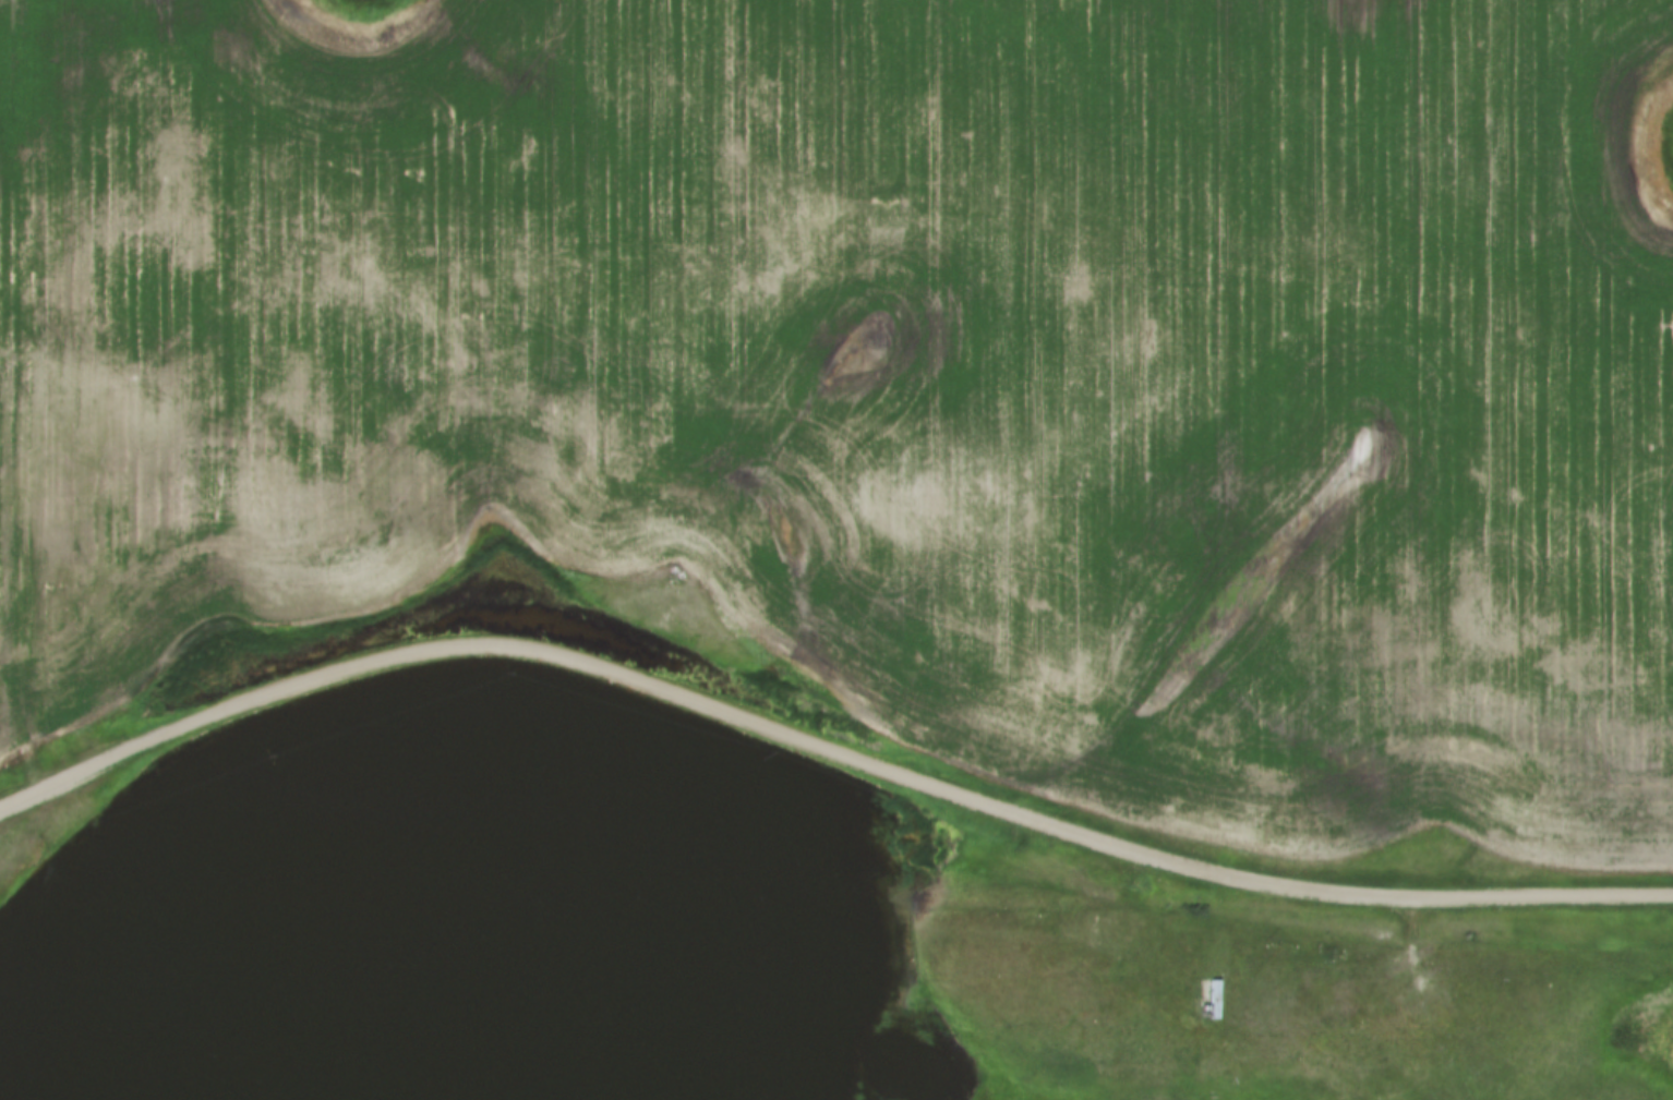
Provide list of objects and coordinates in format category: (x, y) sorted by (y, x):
road: (826, 746)
building: (1211, 1002)
road: (1427, 1003)

